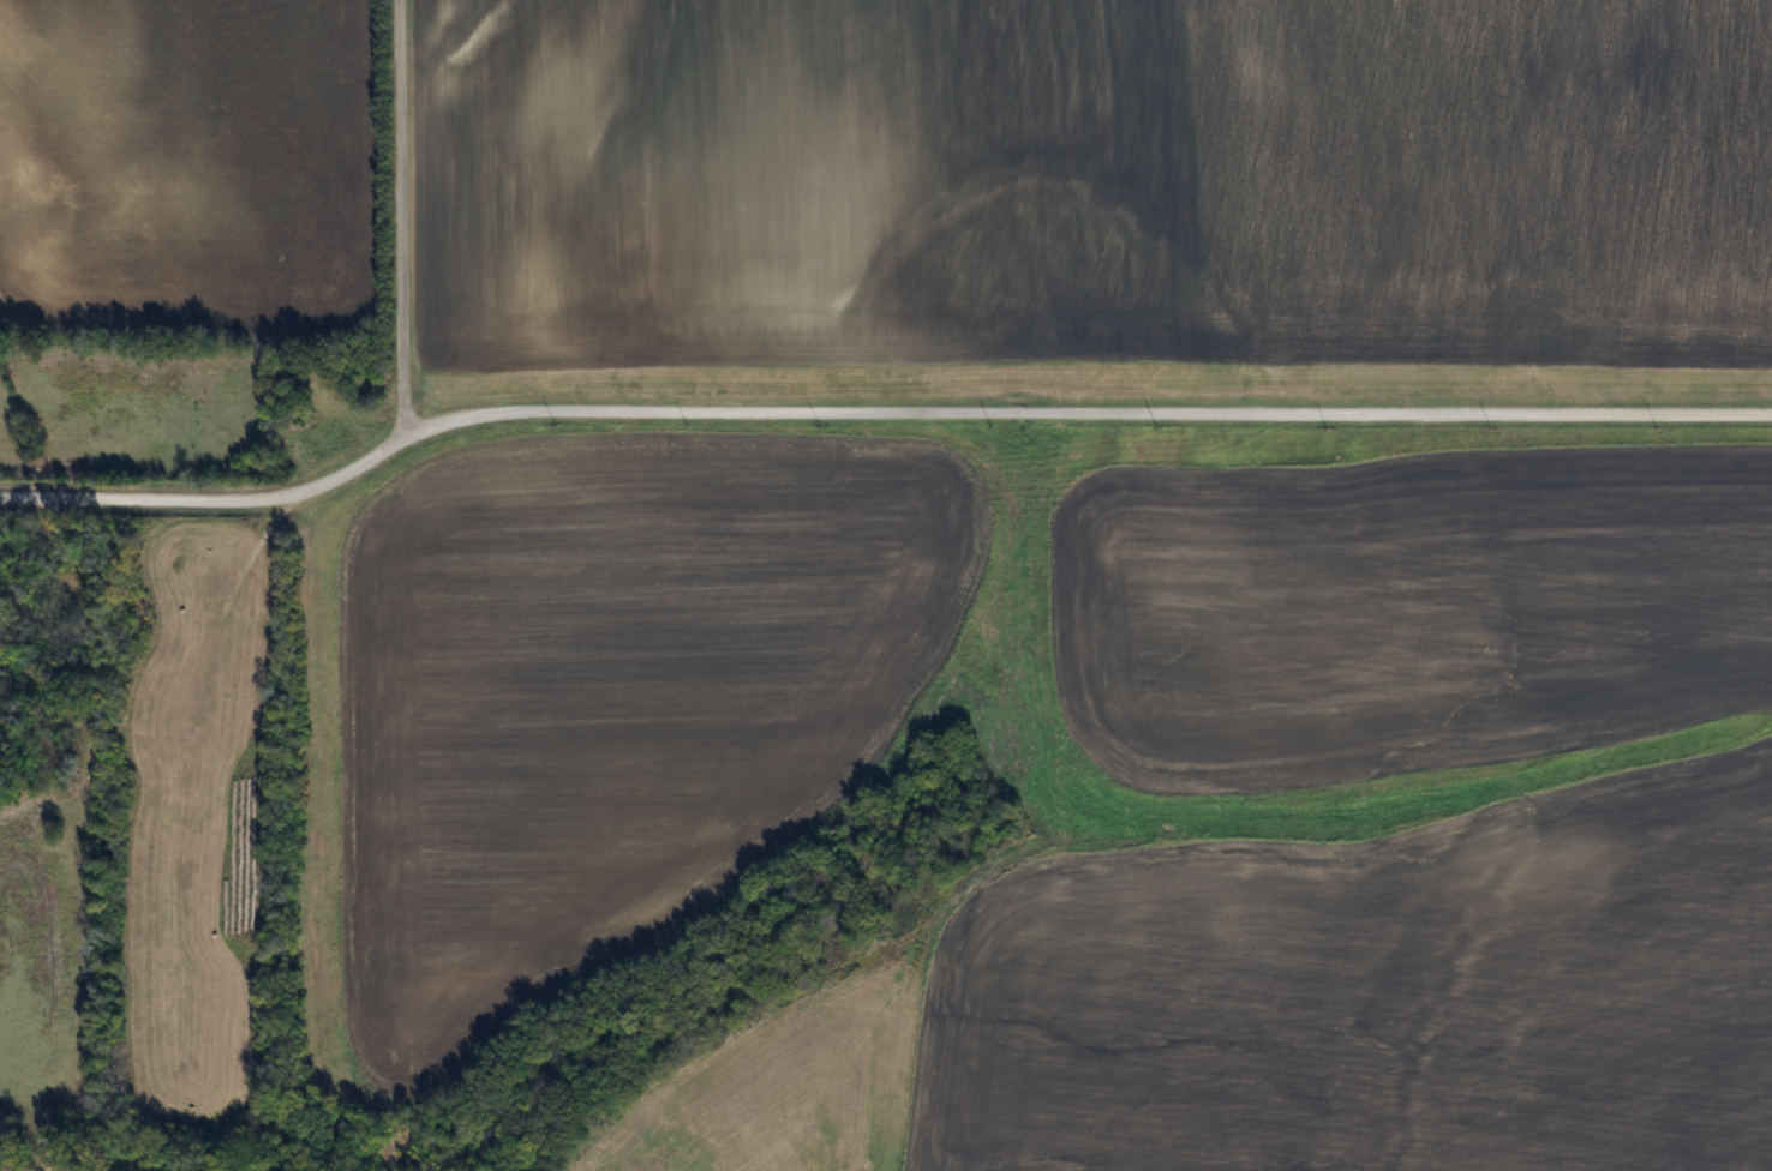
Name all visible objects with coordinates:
road: (400, 216)
road: (876, 412)

